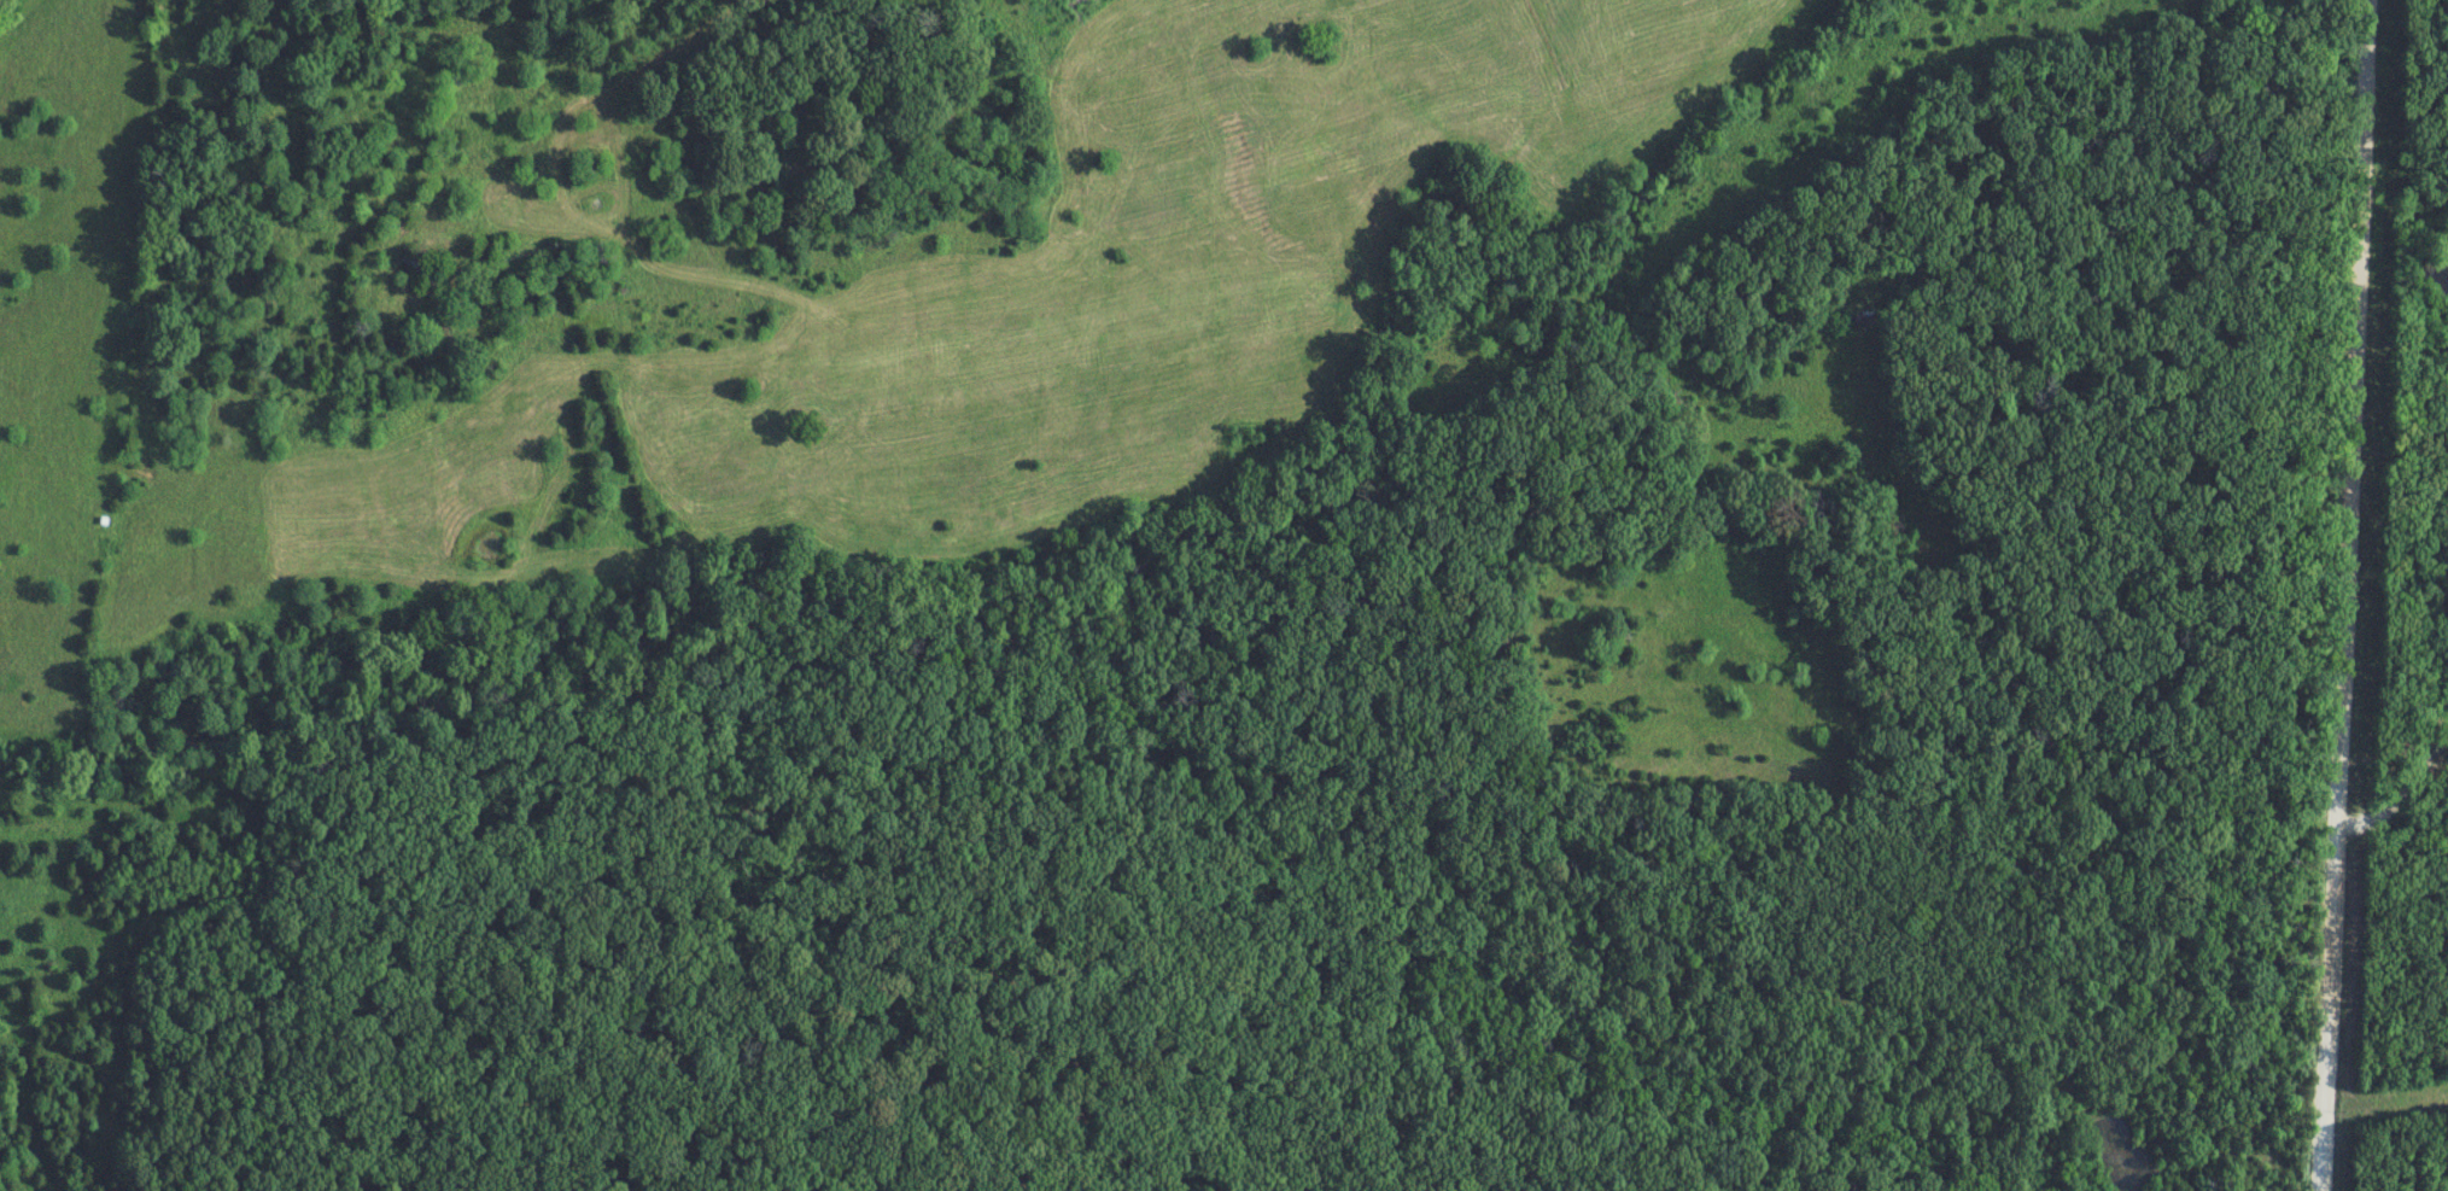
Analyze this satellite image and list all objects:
road: (2344, 595)
road: (2400, 793)

